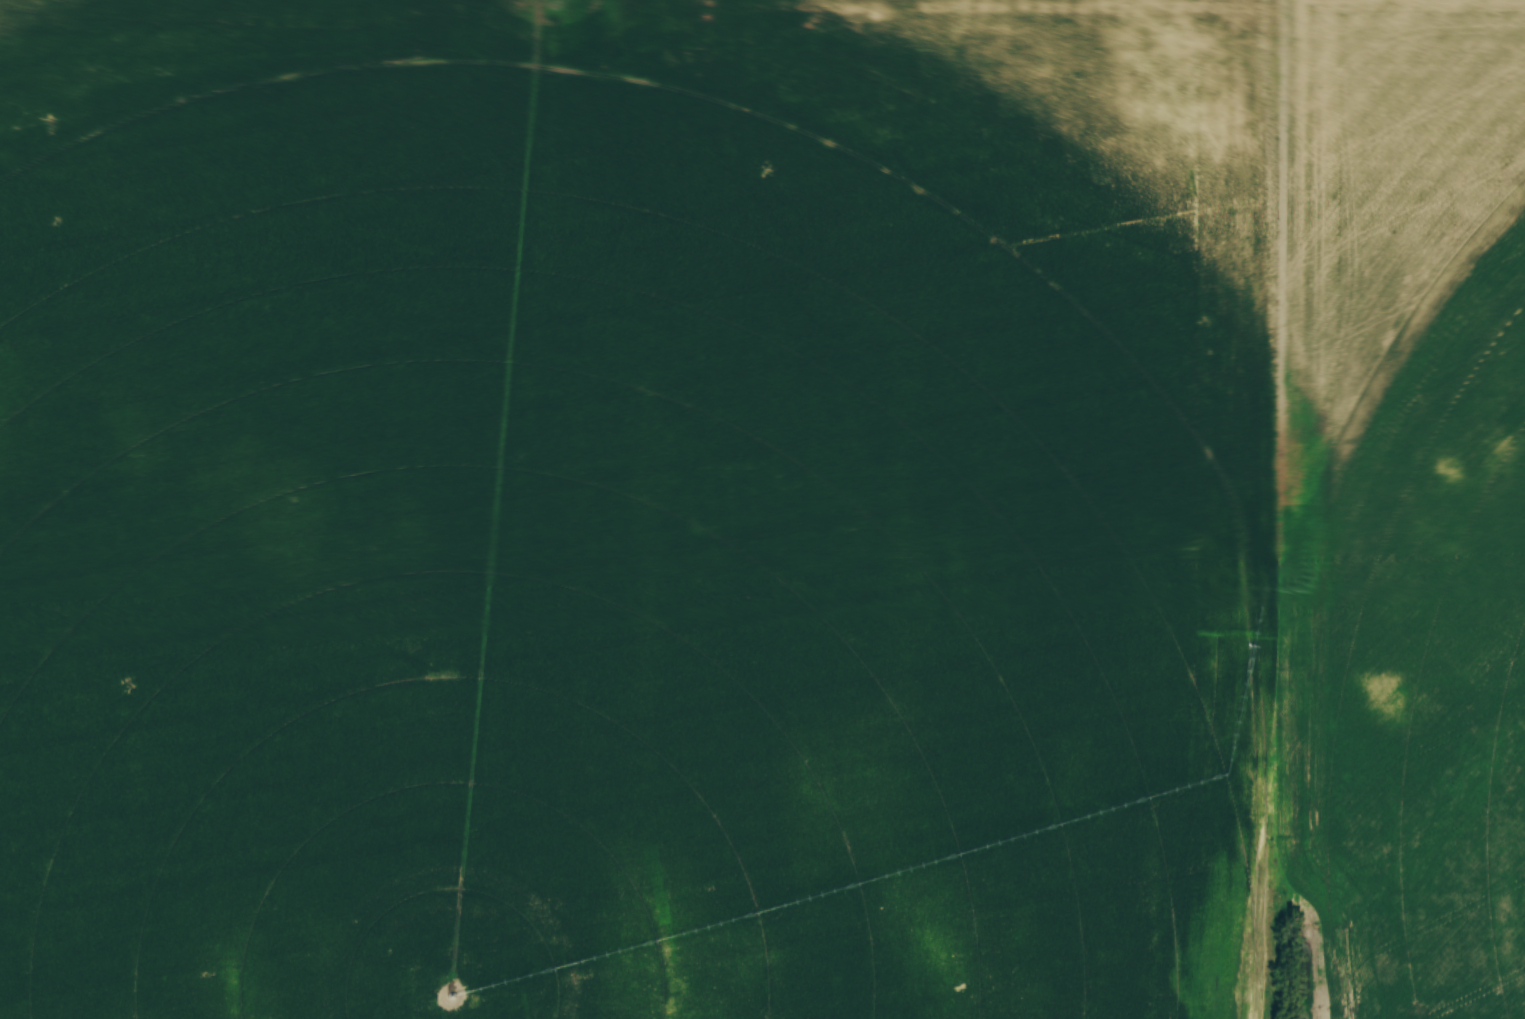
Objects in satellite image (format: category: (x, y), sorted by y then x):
crop: (762, 509)

